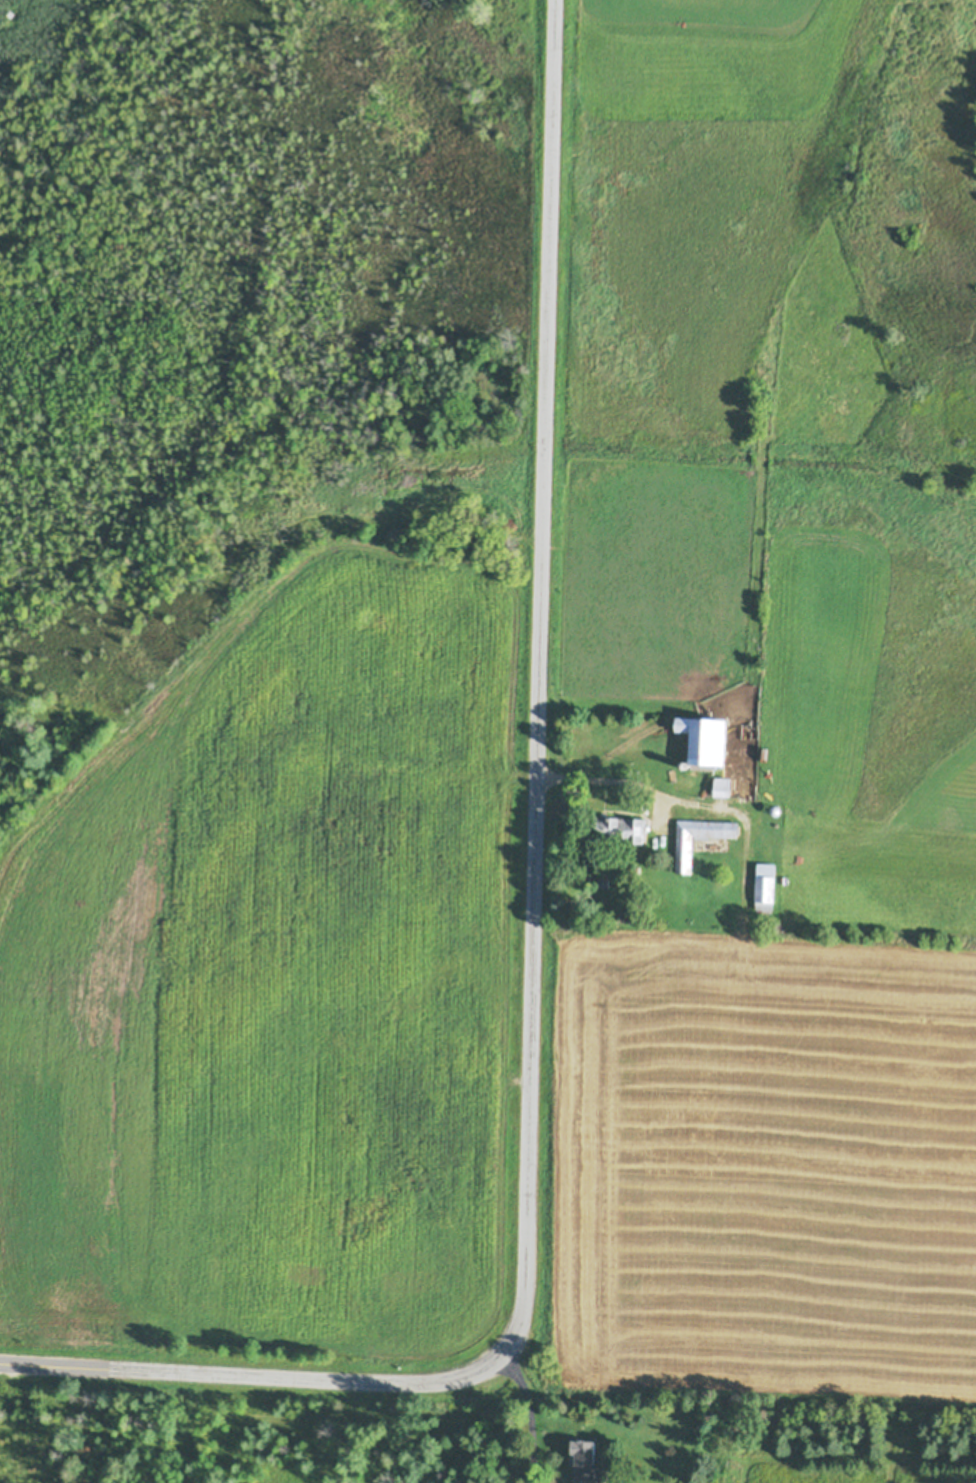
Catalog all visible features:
crop: (692, 209)
building: (704, 744)
road: (602, 780)
building: (721, 788)
building: (643, 809)
building: (775, 814)
building: (619, 831)
building: (683, 855)
building: (602, 883)
building: (764, 886)
road: (534, 934)
crop: (776, 947)
road: (528, 1415)
building: (584, 1457)

